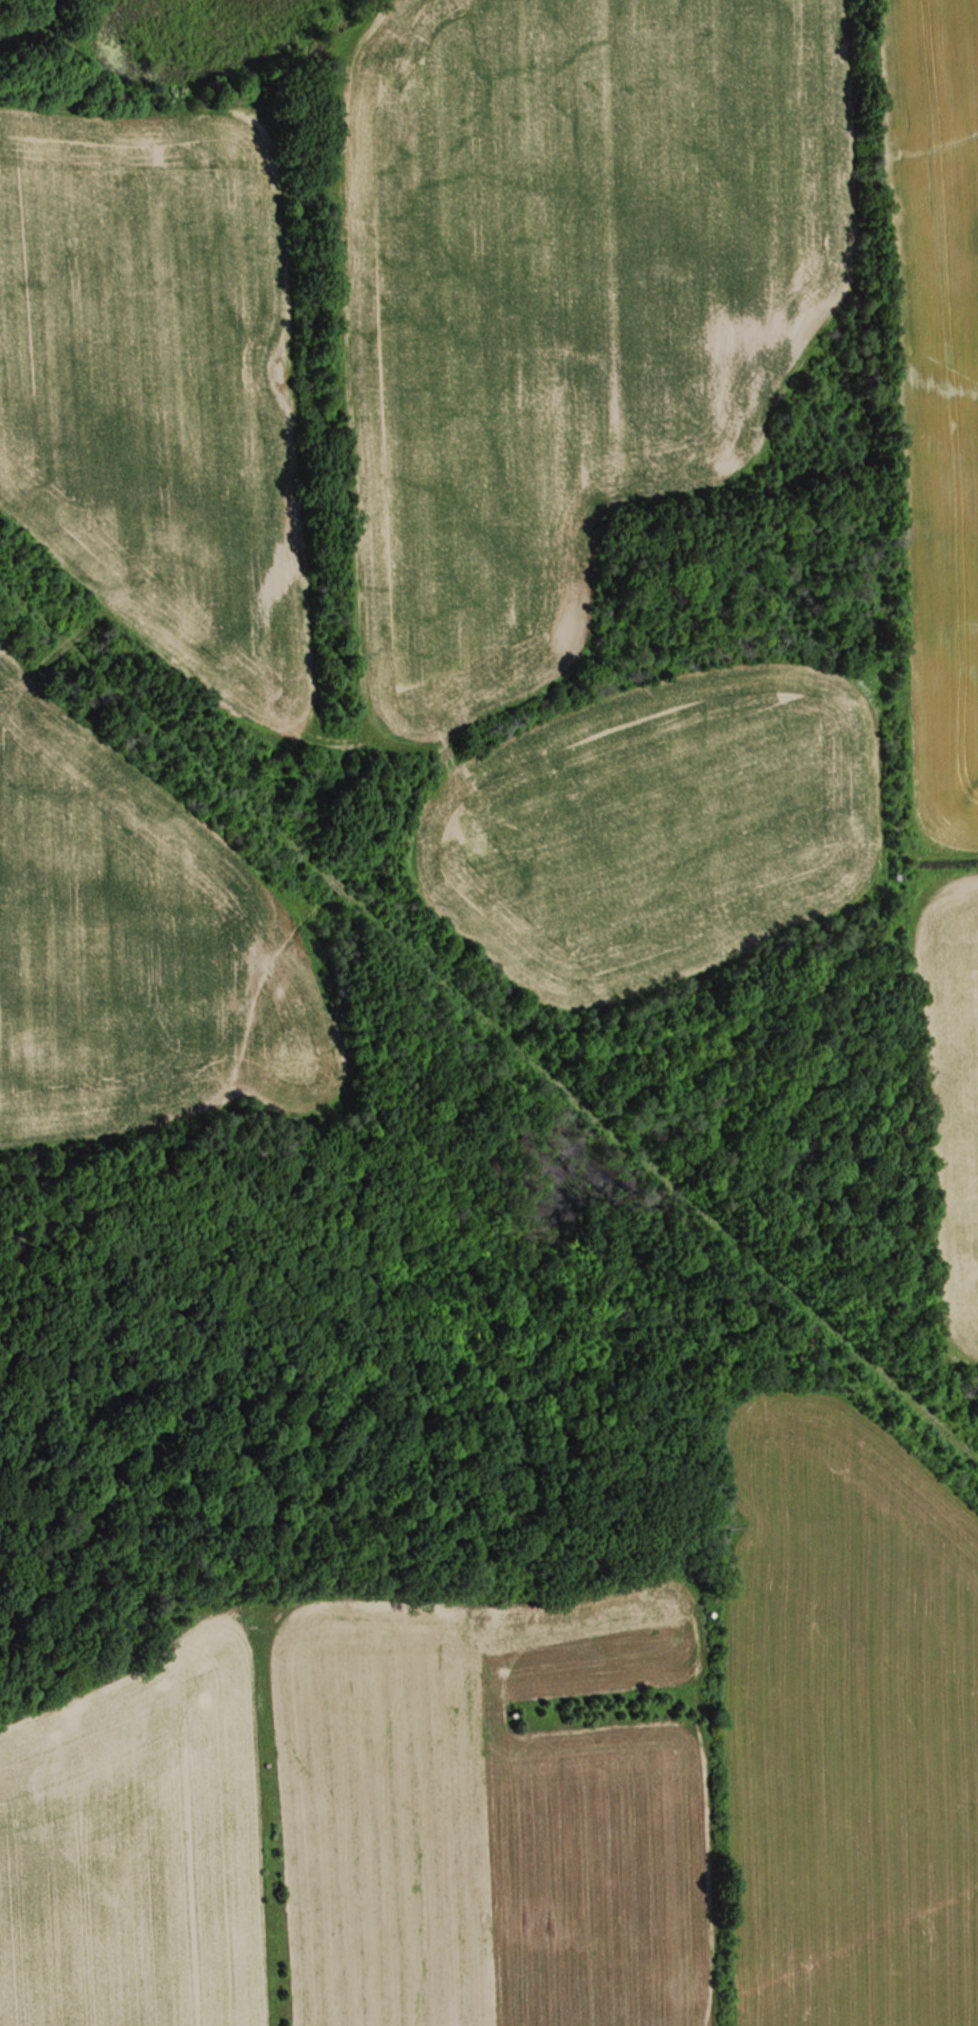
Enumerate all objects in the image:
railway: (489, 1021)

